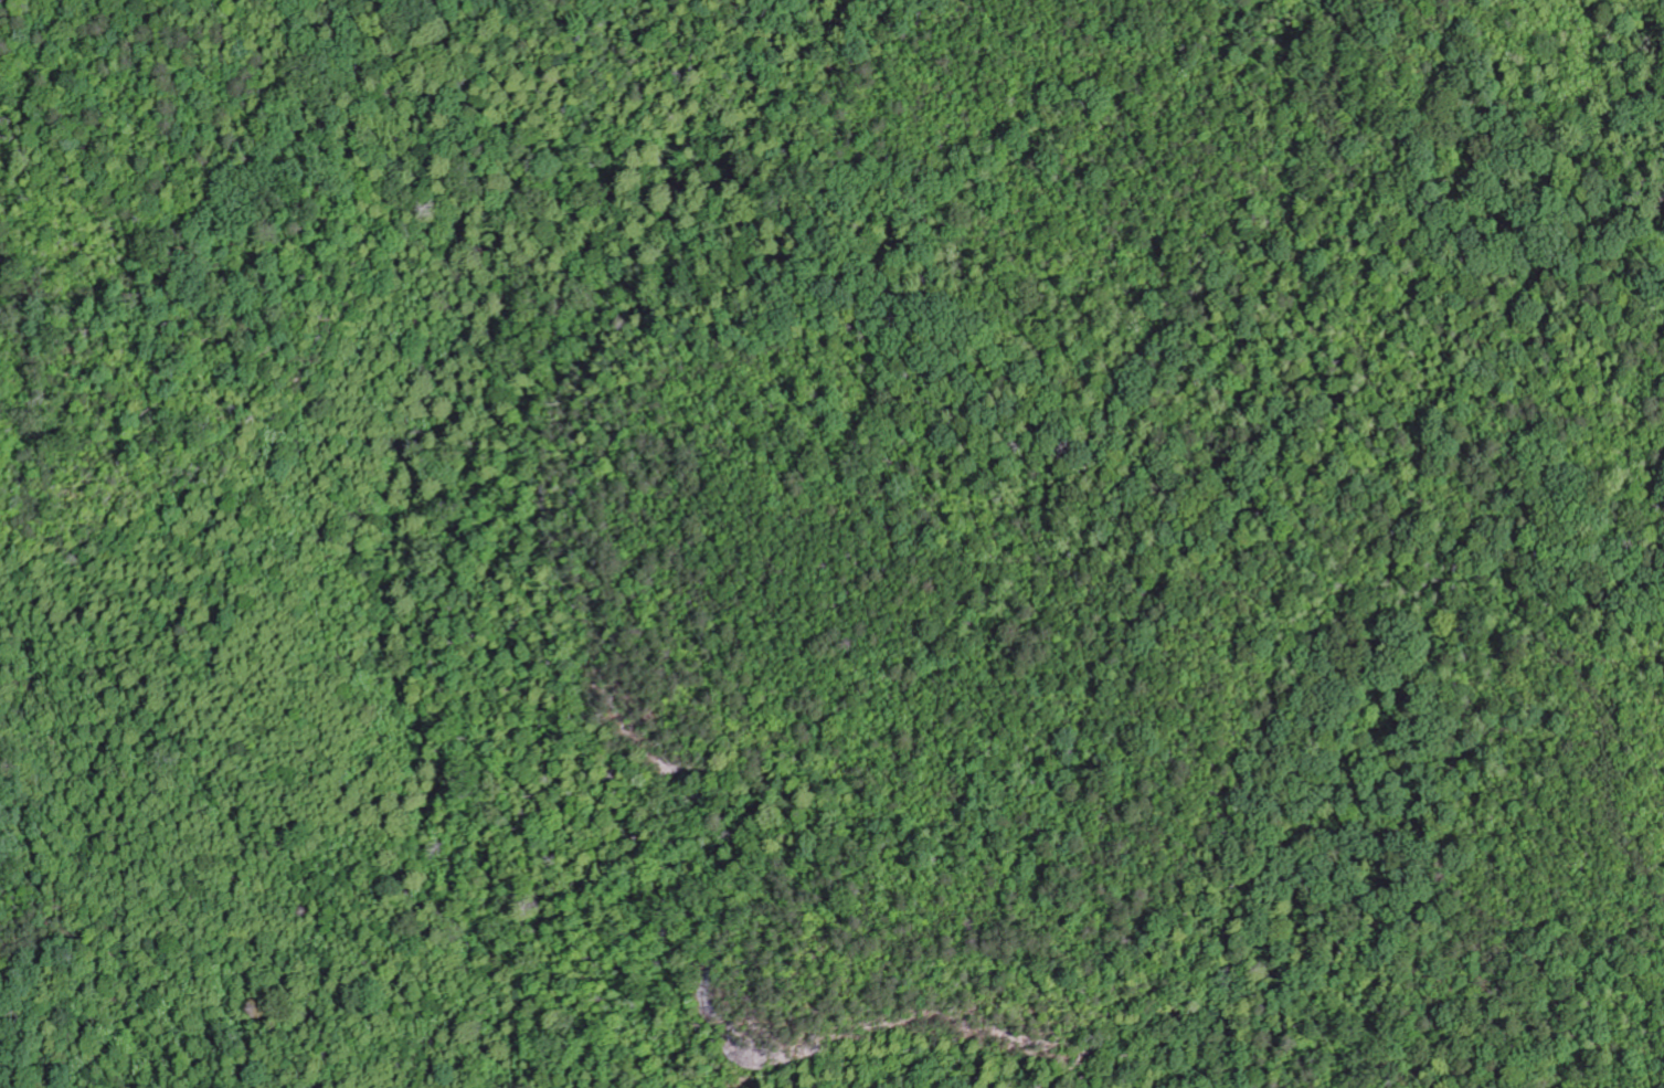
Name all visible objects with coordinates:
road: (1412, 506)

